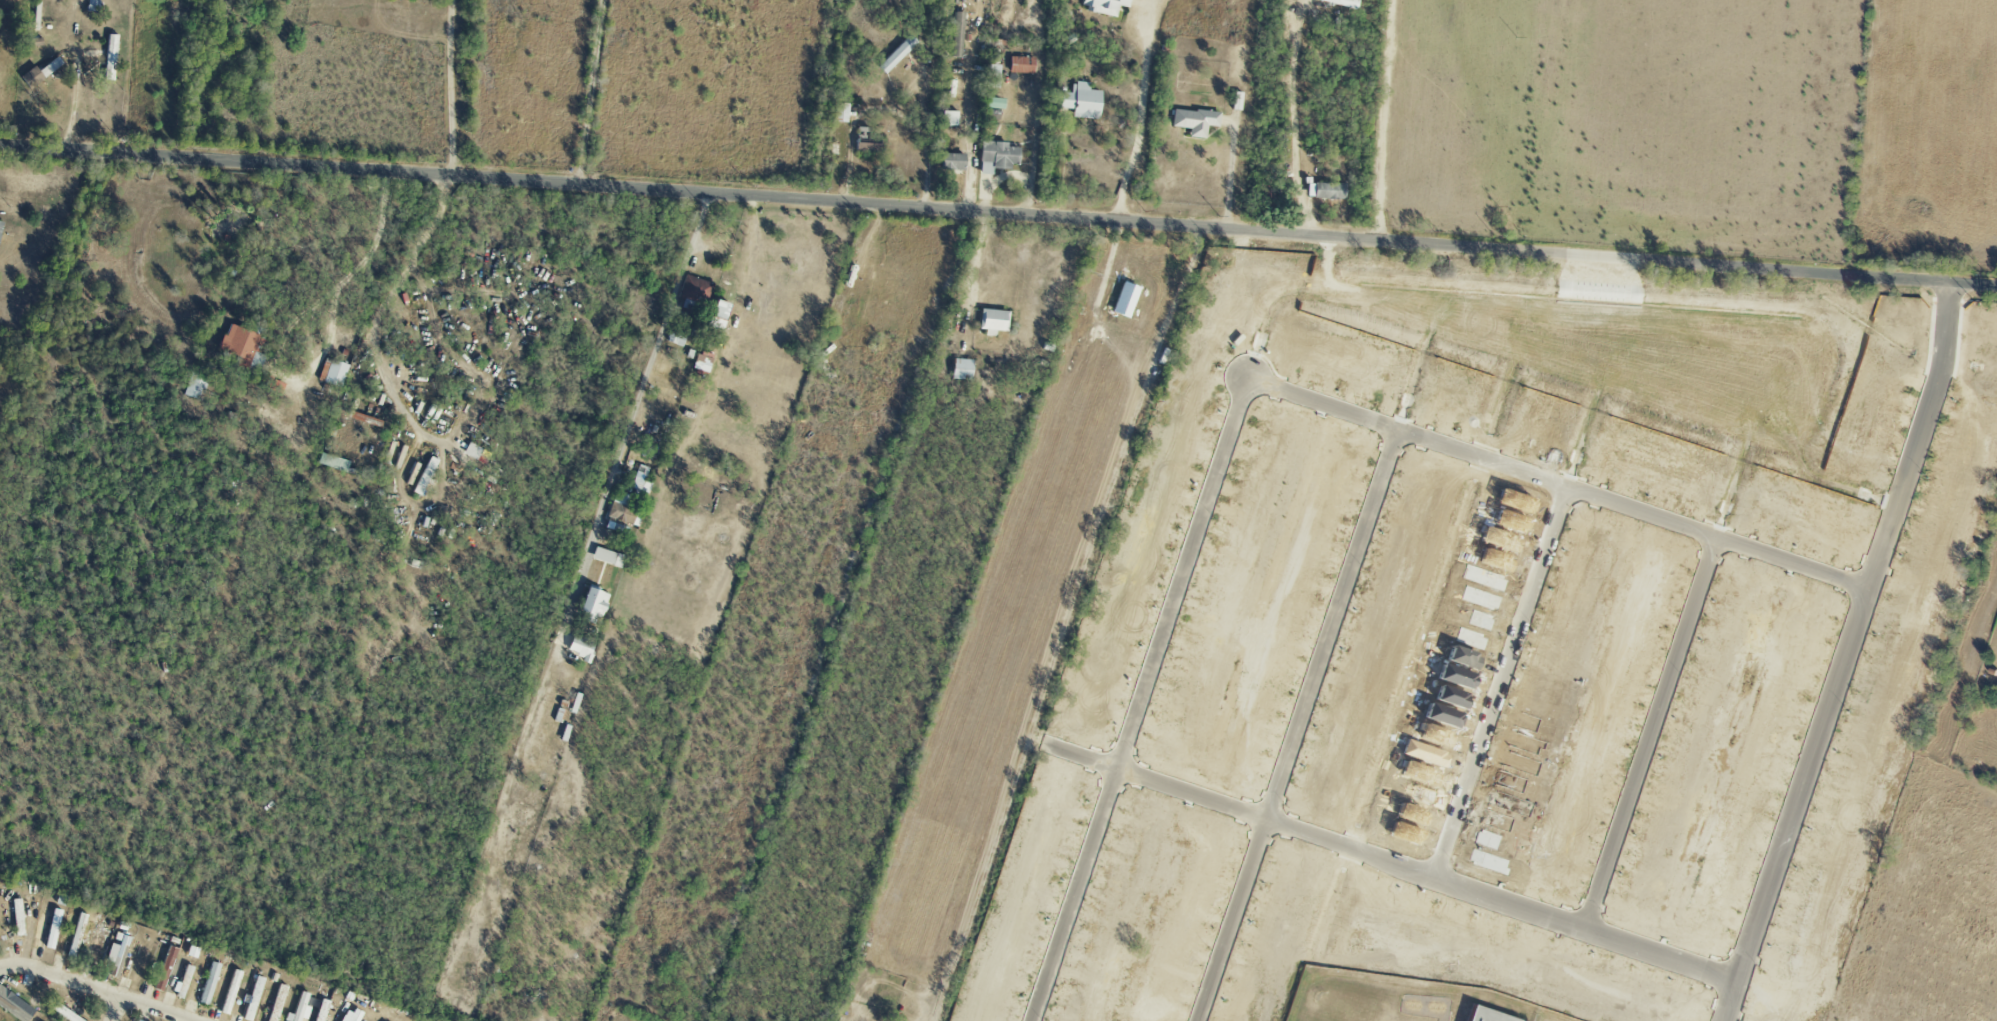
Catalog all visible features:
building: (1337, 2)
building: (1103, 6)
building: (957, 35)
building: (896, 54)
building: (111, 57)
building: (1021, 65)
building: (41, 73)
building: (992, 76)
road: (450, 87)
road: (591, 92)
building: (1081, 101)
building: (993, 103)
road: (73, 105)
road: (1143, 110)
building: (841, 113)
road: (886, 113)
building: (949, 118)
road: (1294, 118)
road: (1385, 120)
building: (1195, 121)
road: (971, 126)
building: (996, 157)
building: (952, 162)
road: (1062, 168)
road: (1230, 177)
building: (1328, 191)
road: (998, 214)
building: (0, 226)
road: (974, 262)
building: (719, 310)
building: (993, 322)
building: (675, 339)
building: (242, 346)
building: (962, 370)
building: (333, 372)
building: (196, 386)
road: (1249, 395)
road: (399, 402)
building: (366, 420)
building: (333, 462)
road: (605, 498)
building: (626, 507)
building: (607, 558)
building: (592, 605)
road: (1067, 624)
building: (580, 648)
road: (1849, 655)
road: (1504, 684)
road: (1303, 725)
road: (1654, 736)
road: (1391, 864)
building: (53, 929)
building: (78, 935)
building: (99, 942)
building: (118, 953)
road: (5, 968)
building: (165, 968)
building: (183, 982)
building: (209, 983)
road: (102, 990)
building: (231, 992)
building: (253, 998)
building: (277, 1003)
building: (15, 1006)
road: (115, 1008)
building: (299, 1008)
building: (322, 1010)
building: (350, 1015)
building: (1486, 1015)
building: (136, 1020)

